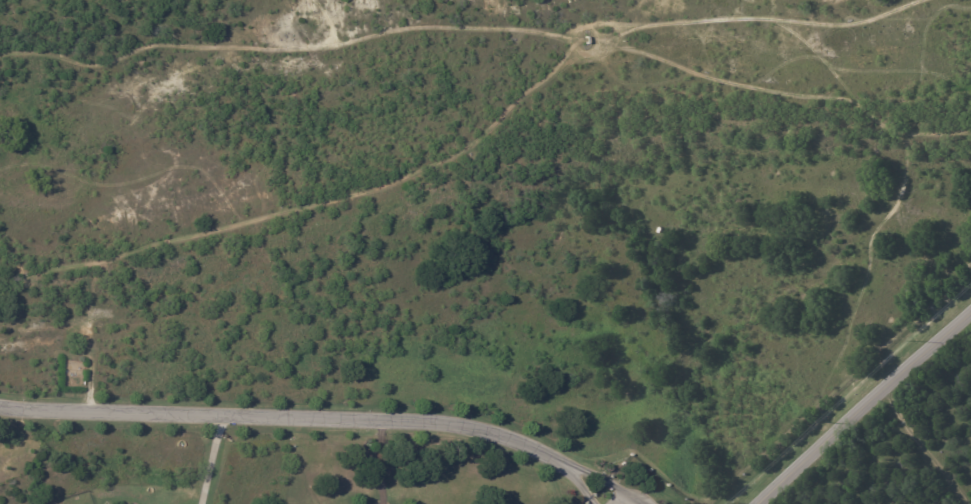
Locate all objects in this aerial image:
road: (863, 406)
road: (289, 418)
road: (209, 460)
road: (378, 462)
road: (591, 474)
road: (622, 499)

